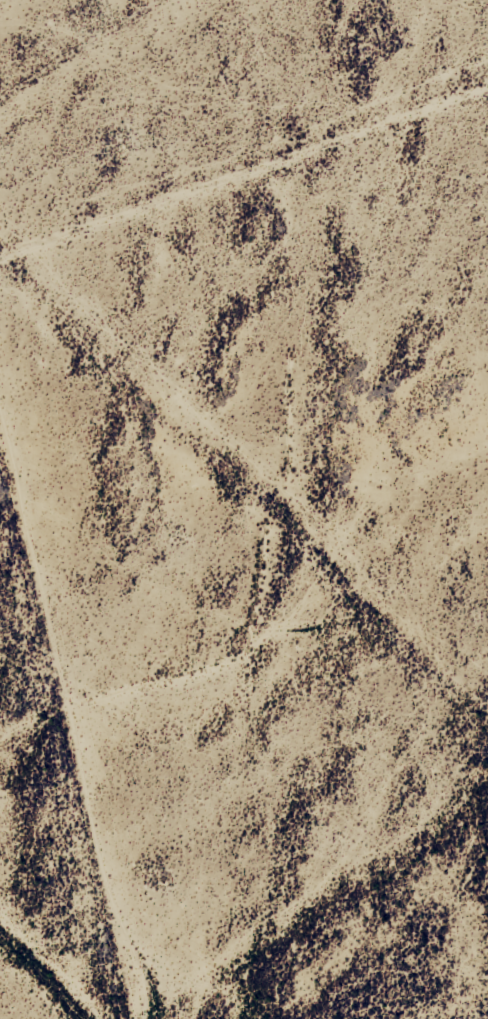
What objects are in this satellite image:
road: (48, 9)

